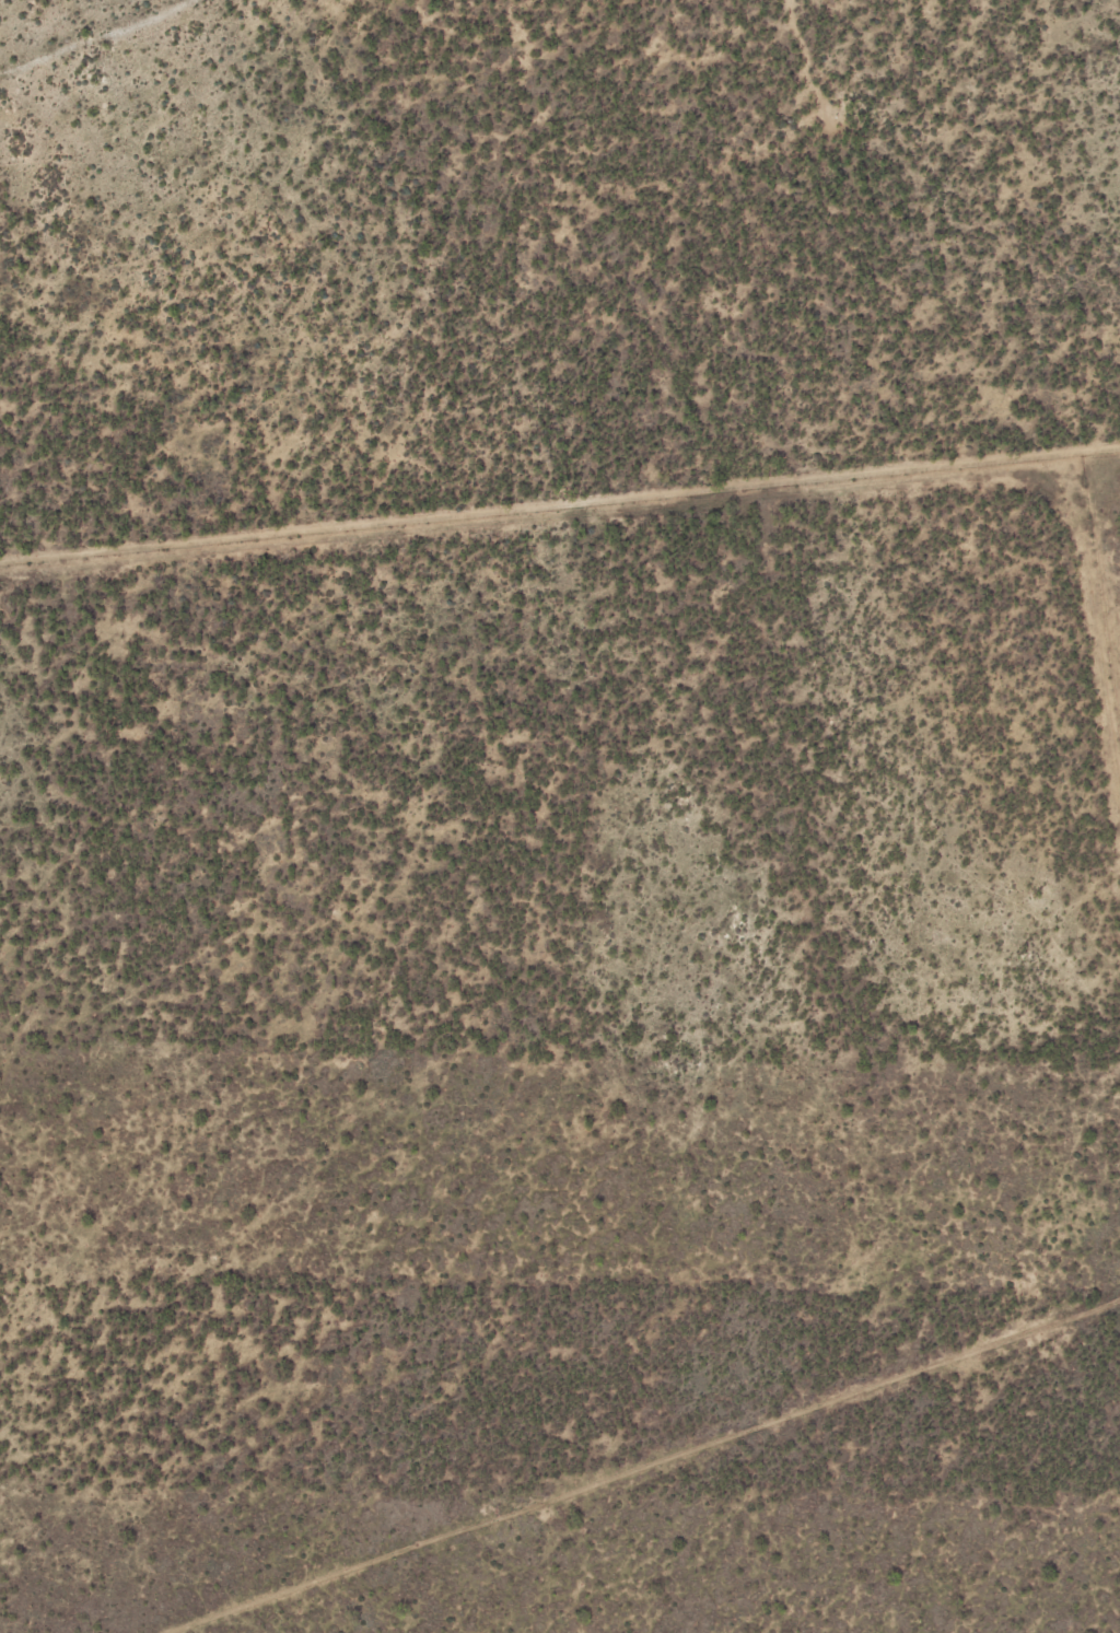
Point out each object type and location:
road: (97, 42)
road: (803, 56)

